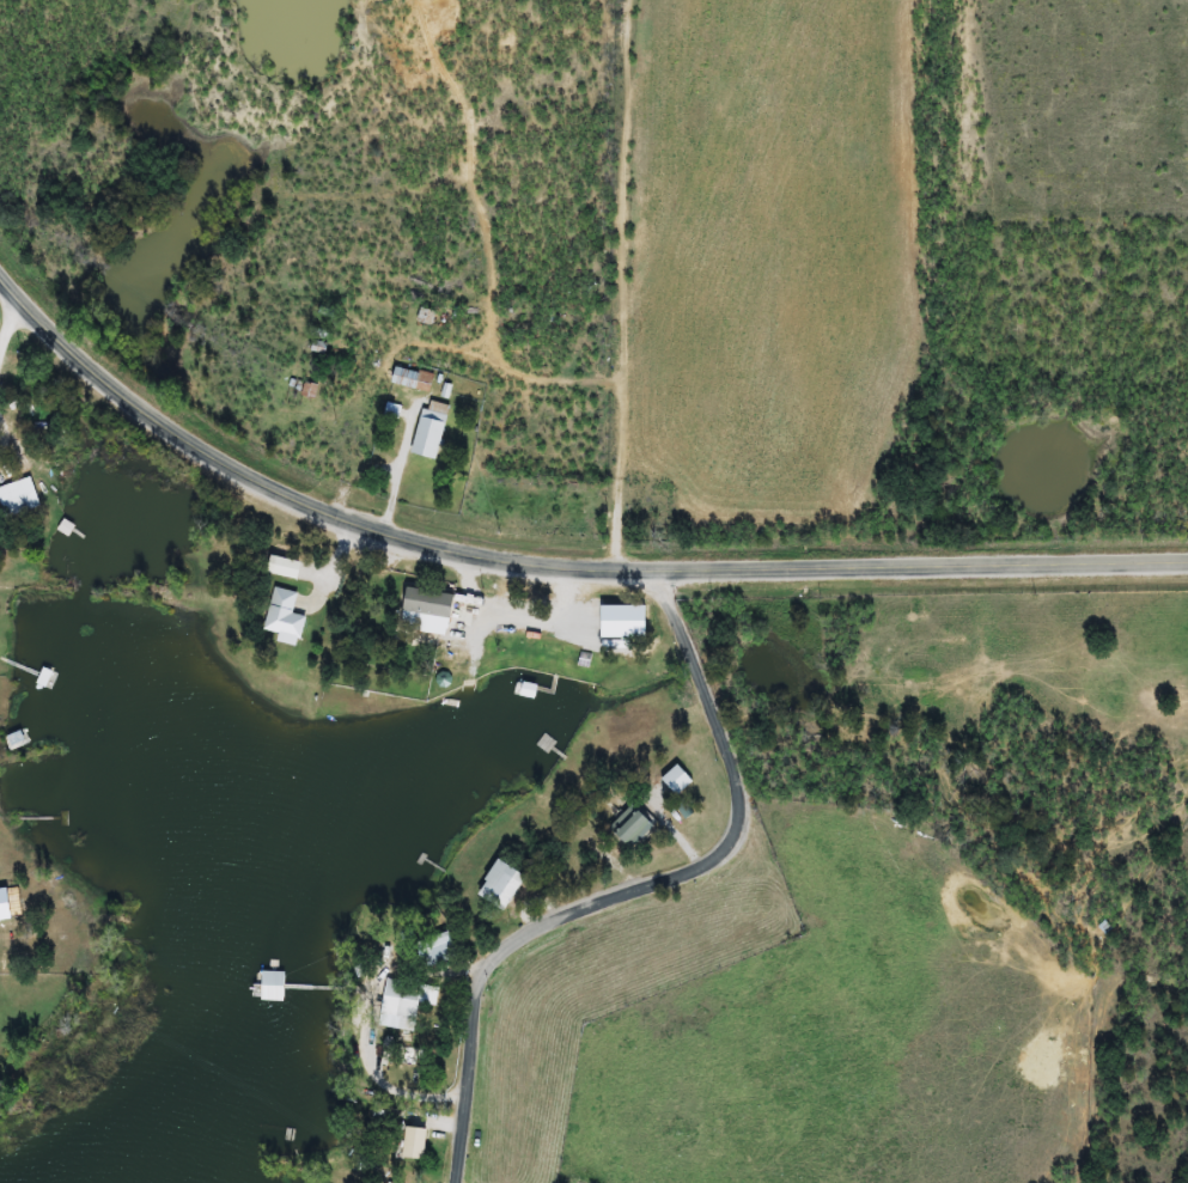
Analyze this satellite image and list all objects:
building: (428, 317)
building: (415, 380)
building: (433, 429)
building: (22, 496)
road: (549, 566)
building: (288, 567)
building: (288, 617)
building: (437, 620)
building: (635, 825)
road: (690, 865)
building: (505, 885)
building: (443, 950)
building: (285, 984)
road: (465, 1112)
building: (419, 1144)

